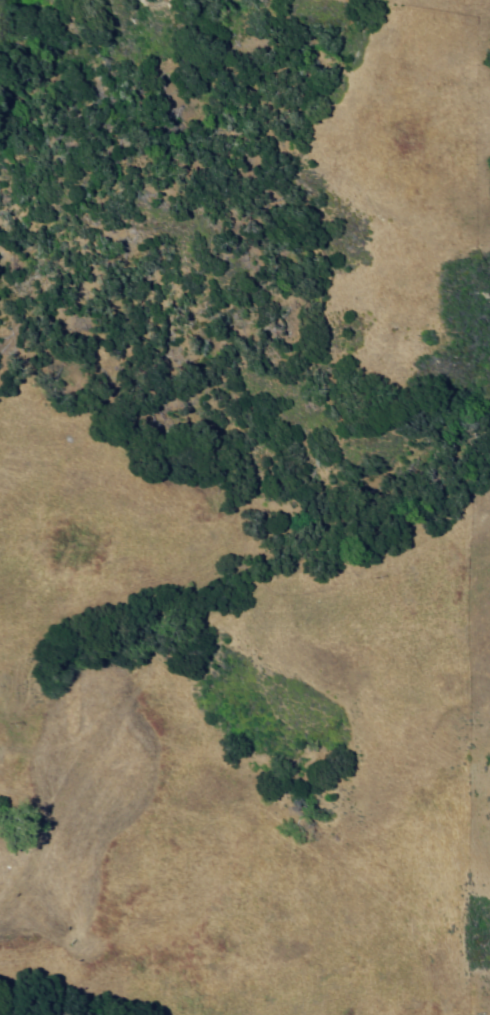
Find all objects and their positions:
road: (39, 1006)

